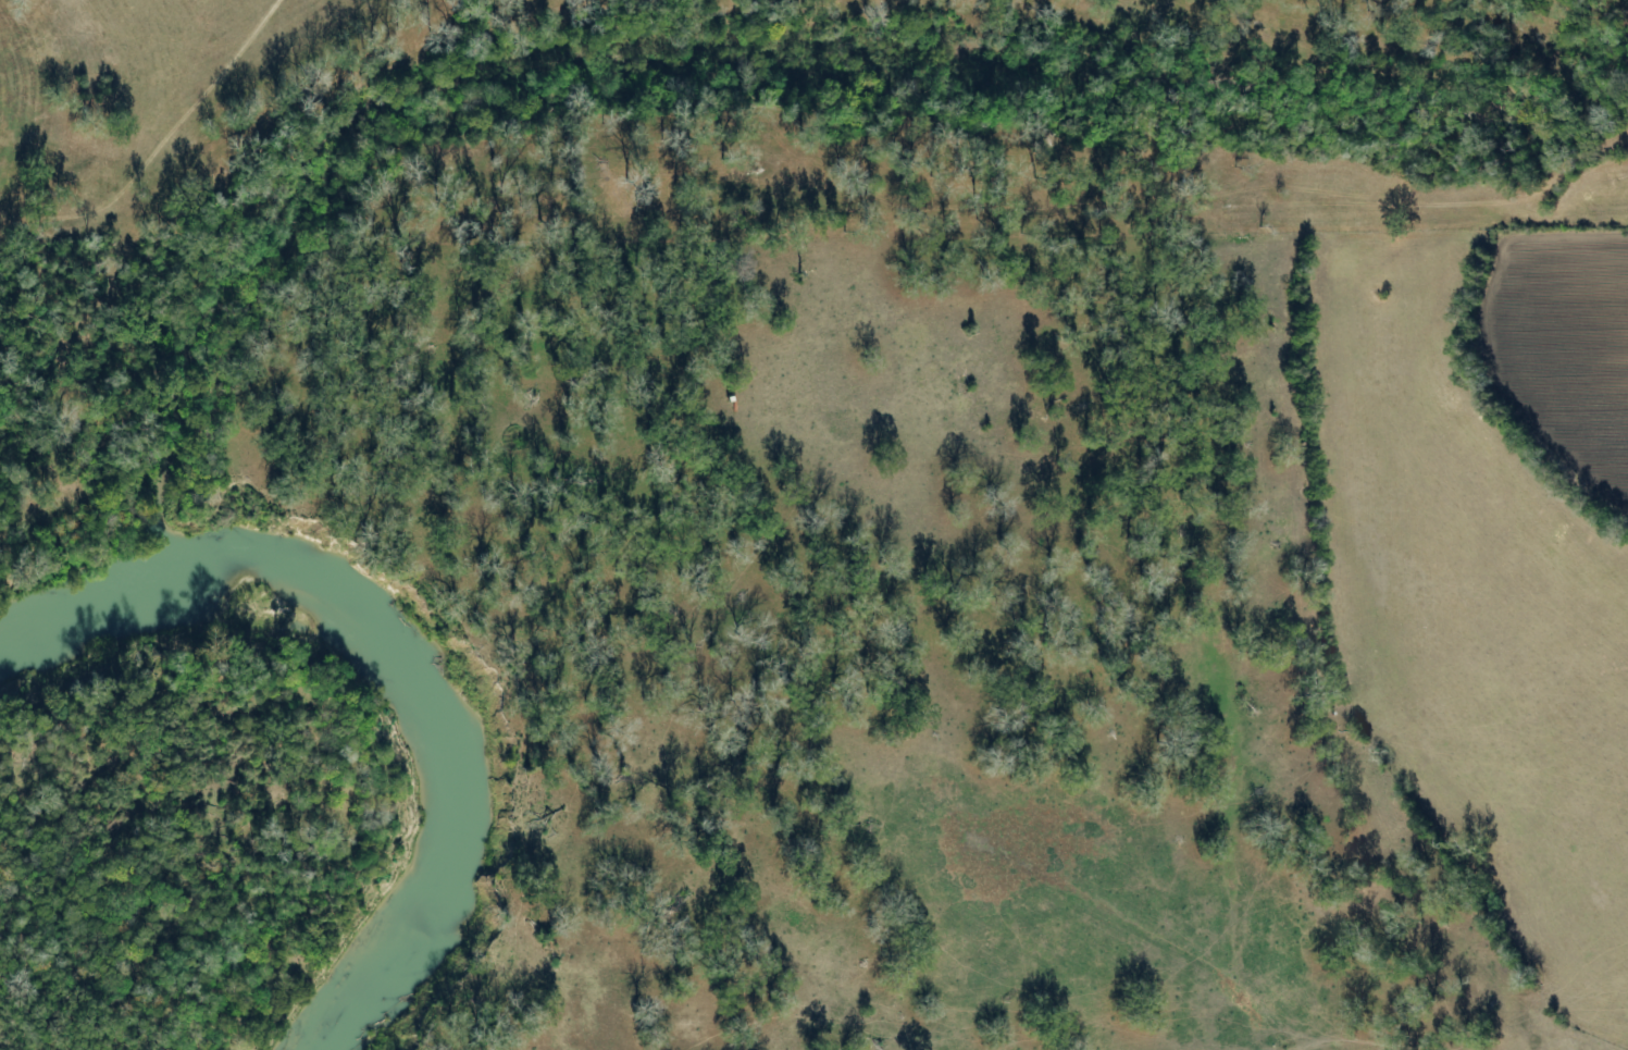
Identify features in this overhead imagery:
river: (403, 666)

